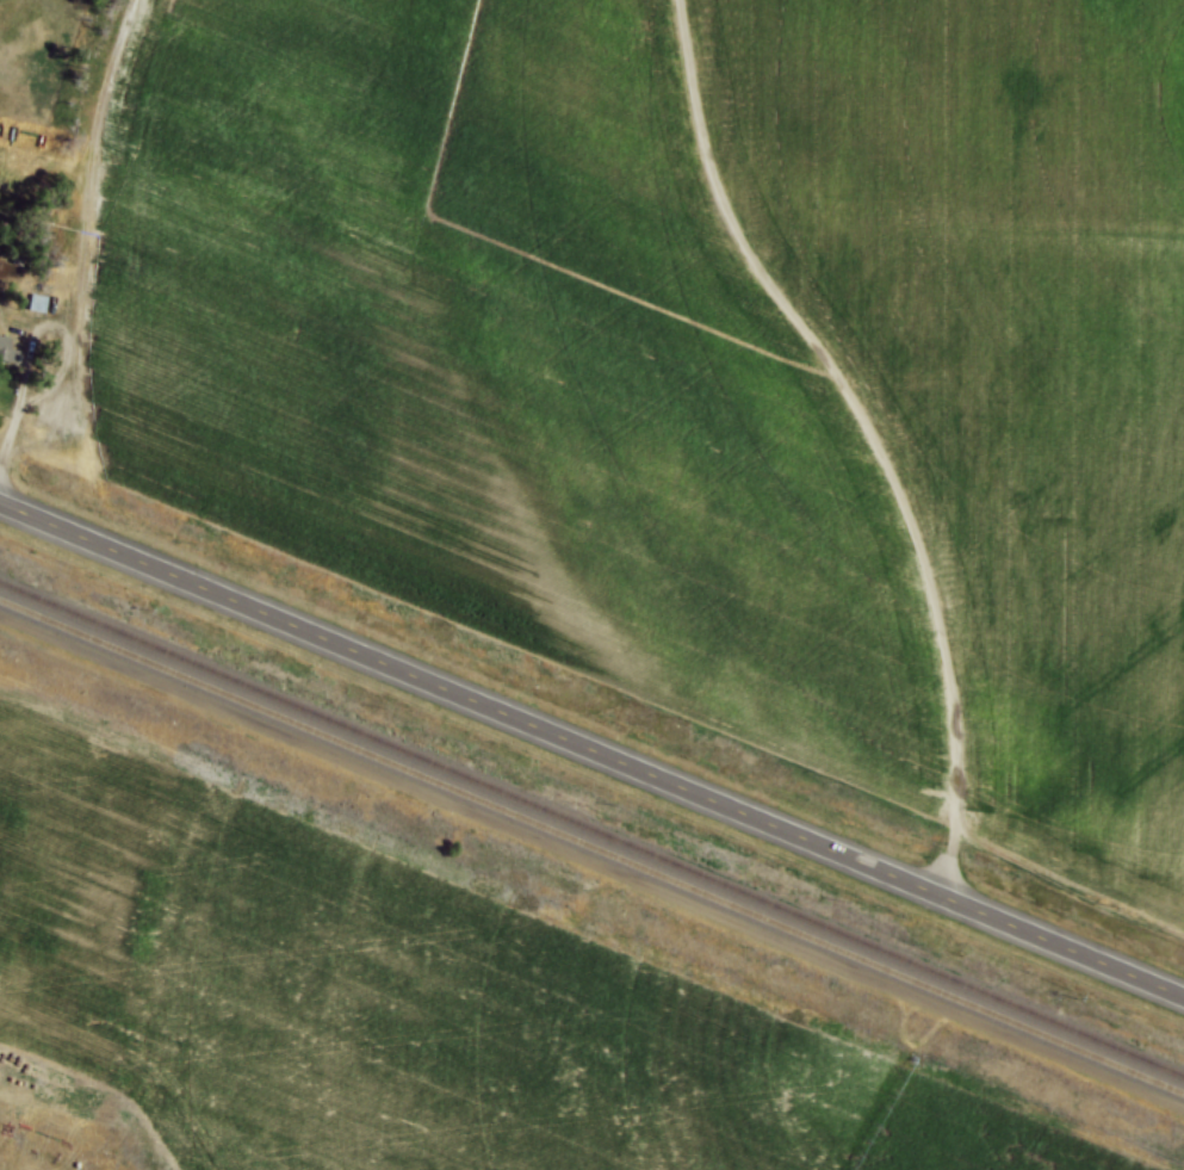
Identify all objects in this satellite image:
building: (38, 302)
building: (7, 347)
road: (23, 400)
road: (591, 748)
railway: (591, 828)
railway: (591, 844)

